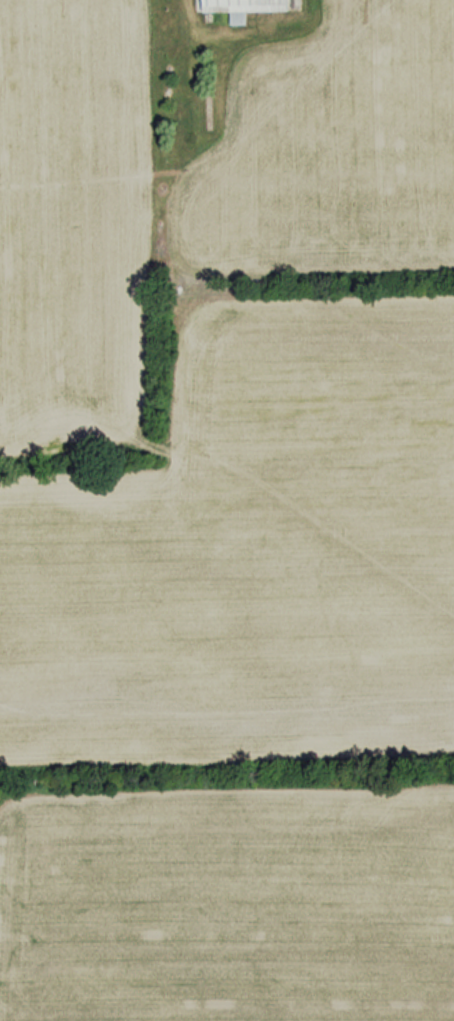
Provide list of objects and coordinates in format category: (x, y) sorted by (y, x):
building: (242, 6)

